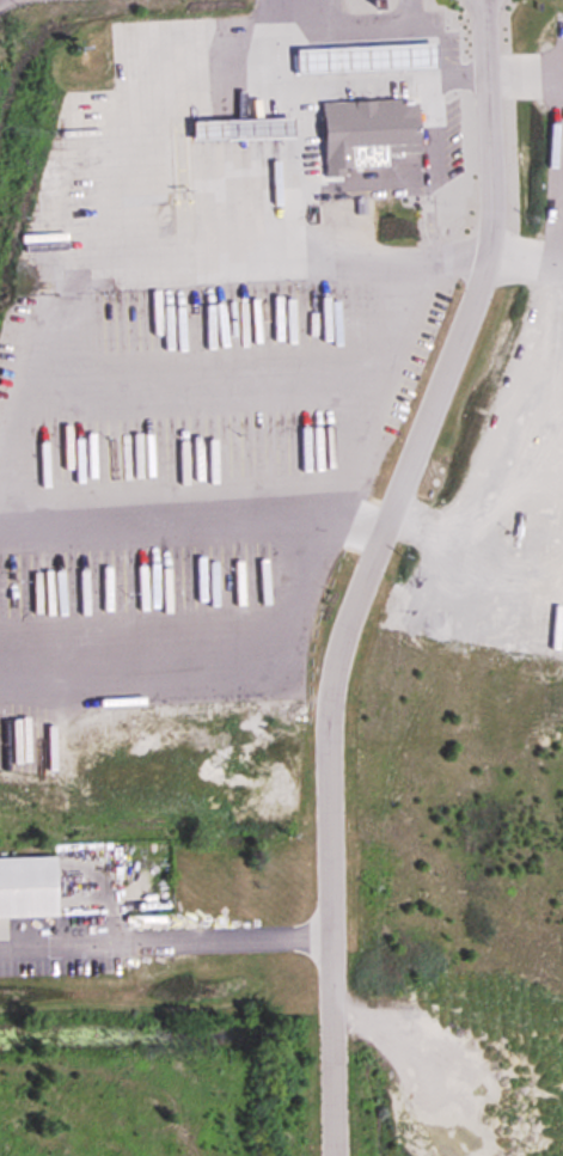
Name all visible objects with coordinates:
building: (365, 56)
road: (527, 68)
road: (343, 79)
building: (371, 123)
building: (241, 127)
road: (515, 255)
road: (384, 374)
road: (492, 420)
road: (365, 569)
building: (198, 577)
building: (26, 887)
road: (164, 942)
building: (476, 1123)

